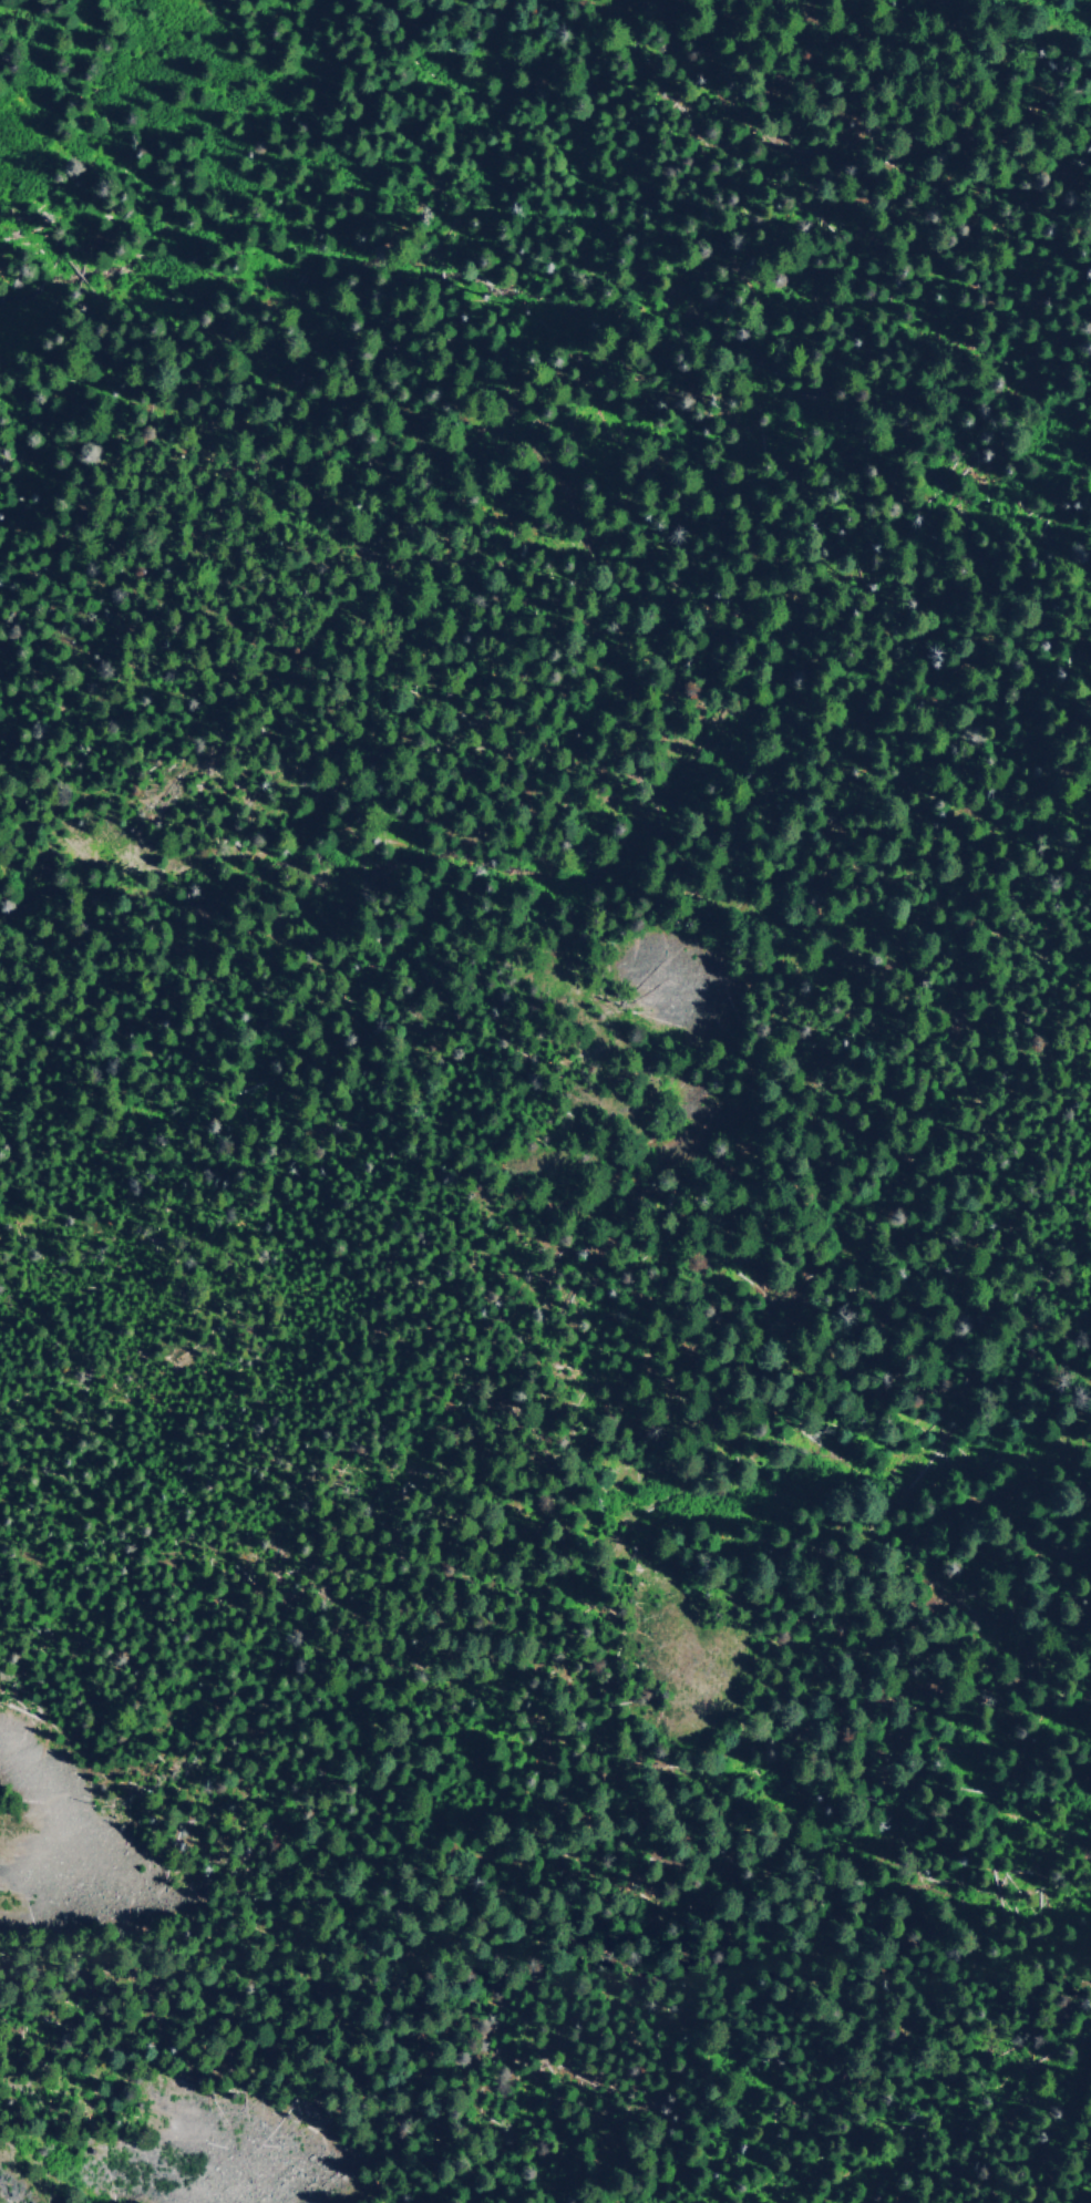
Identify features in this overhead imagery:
road: (531, 710)

